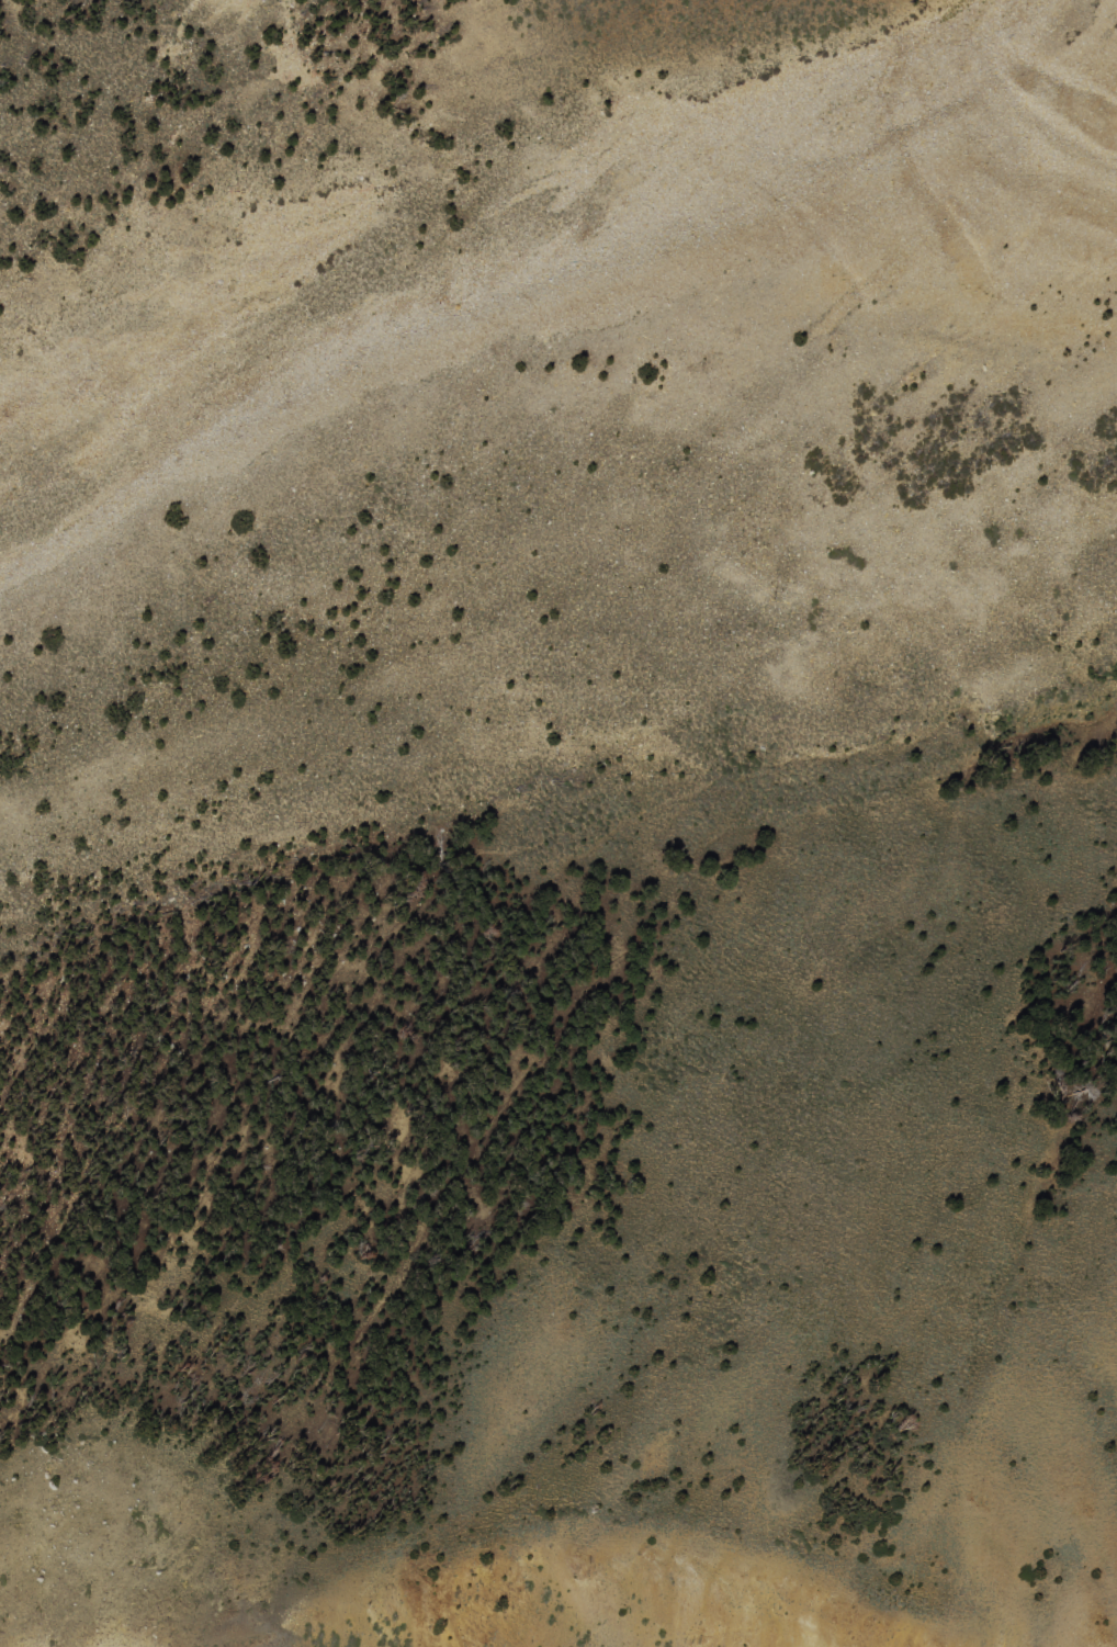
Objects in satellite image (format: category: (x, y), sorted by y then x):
road: (696, 1633)

